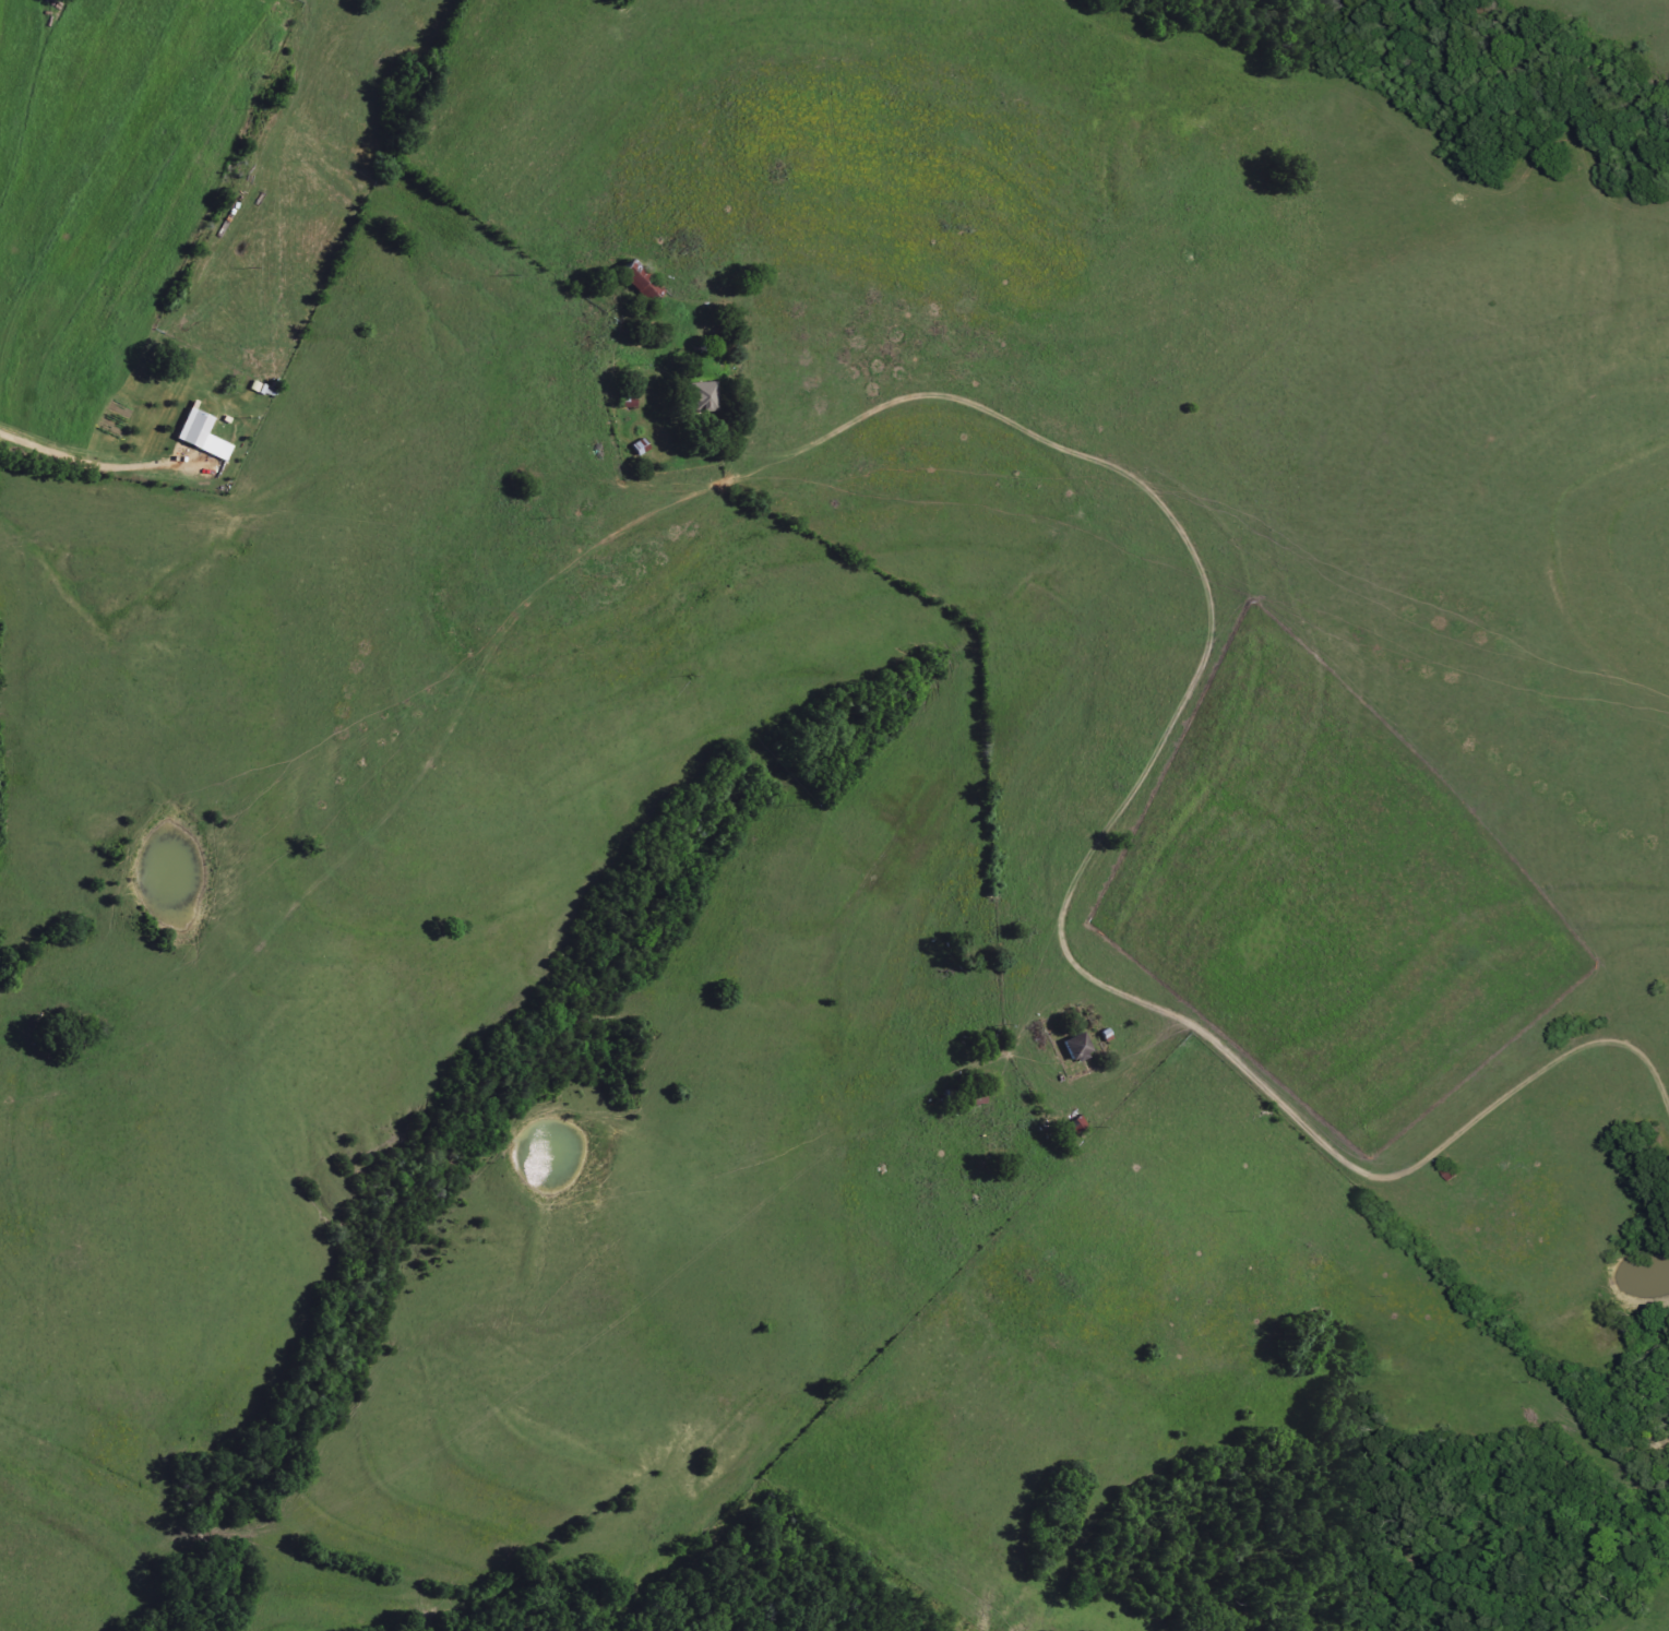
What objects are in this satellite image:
building: (641, 282)
building: (704, 397)
road: (142, 421)
building: (202, 436)
building: (1077, 1049)

